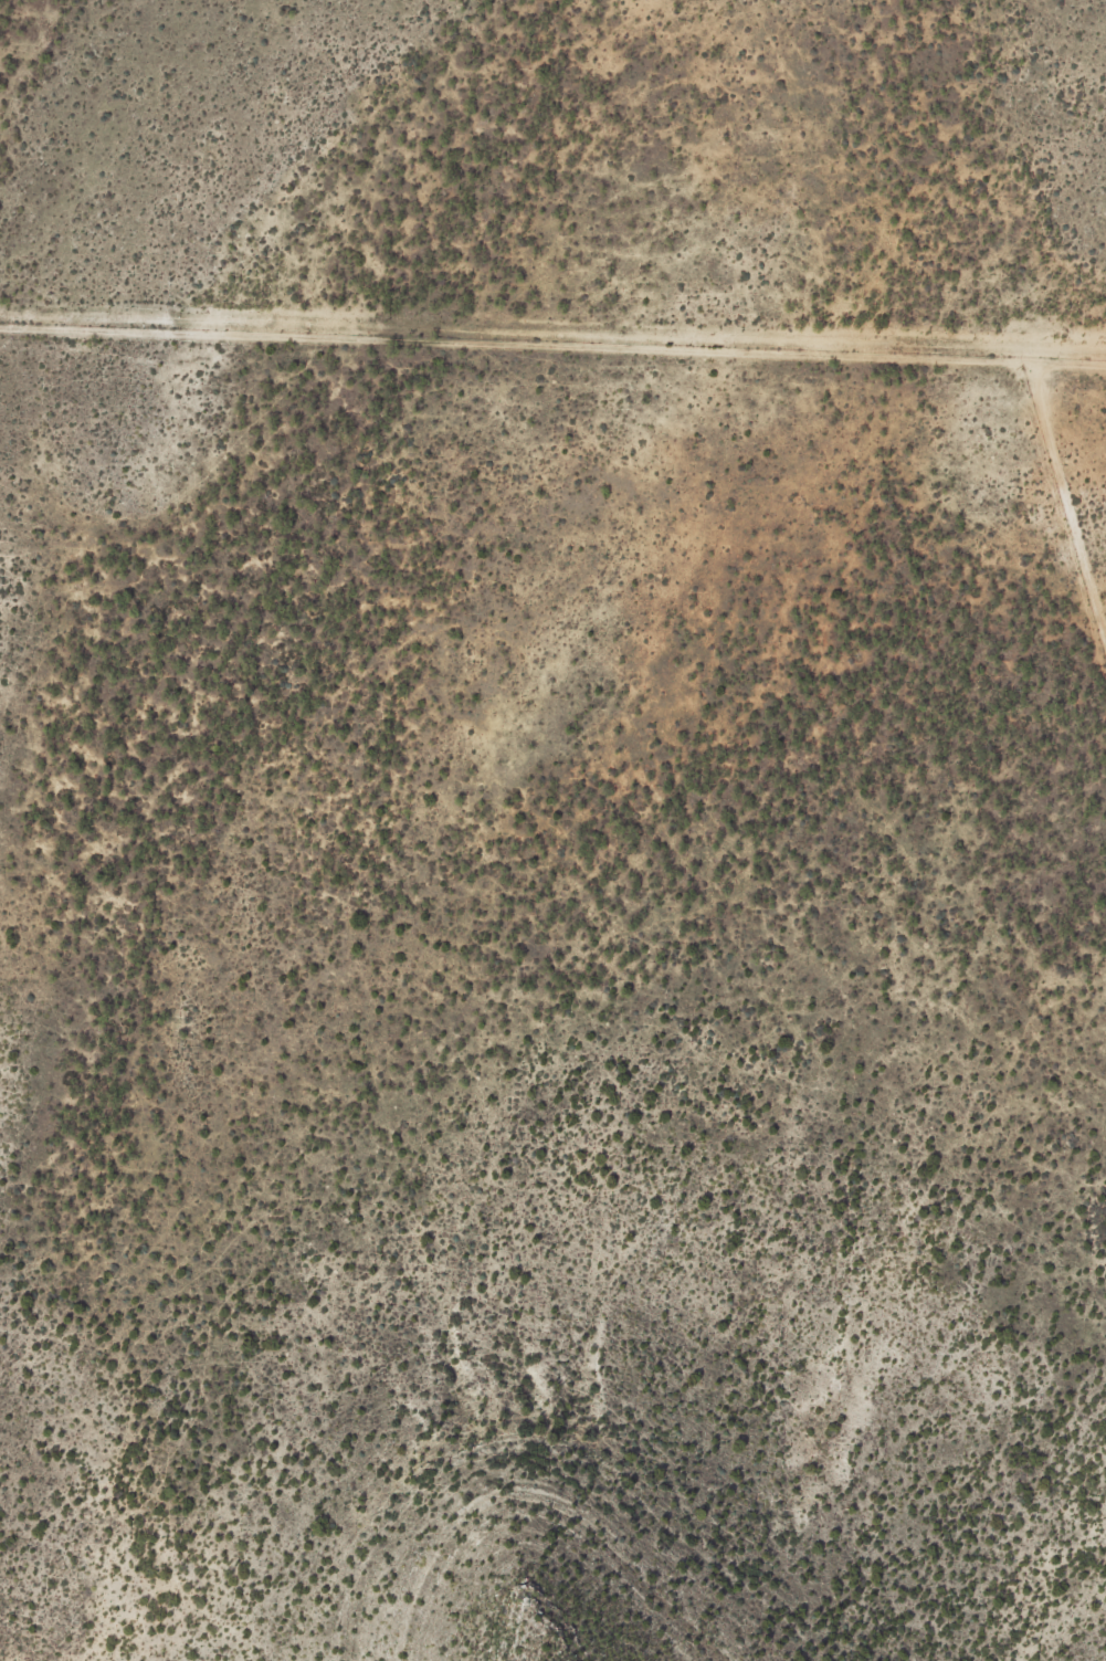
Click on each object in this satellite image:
road: (552, 343)
road: (1070, 487)

